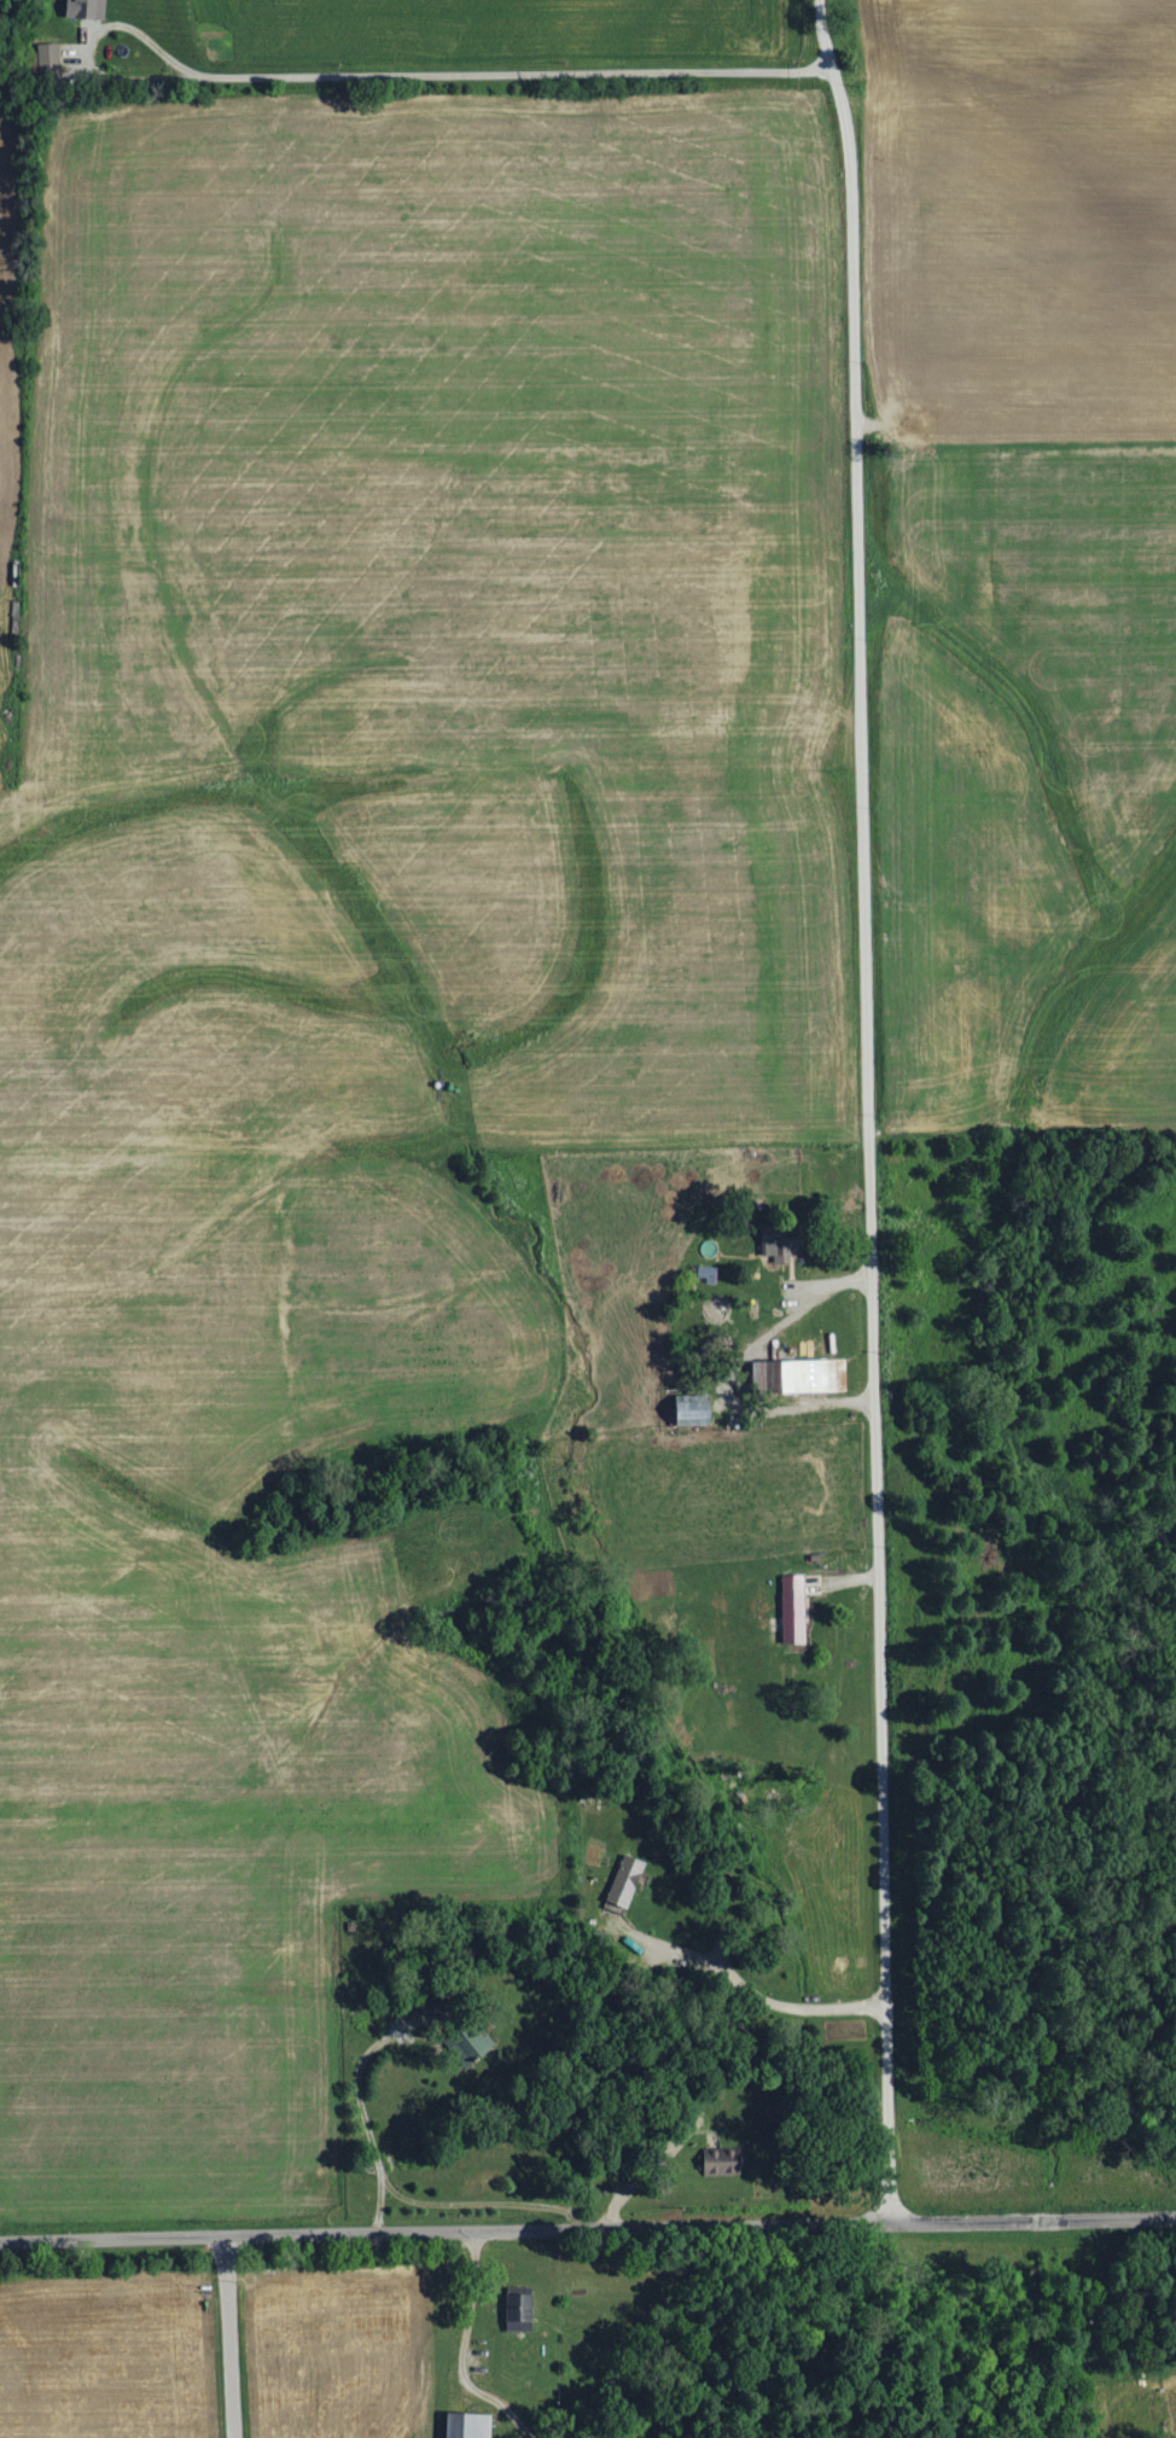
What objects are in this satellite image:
building: (89, 8)
road: (861, 1109)
building: (784, 1241)
building: (801, 1375)
building: (698, 1416)
building: (794, 1610)
building: (627, 1883)
building: (475, 2043)
building: (724, 2164)
road: (587, 2229)
road: (470, 2292)
building: (520, 2312)
building: (470, 2426)

